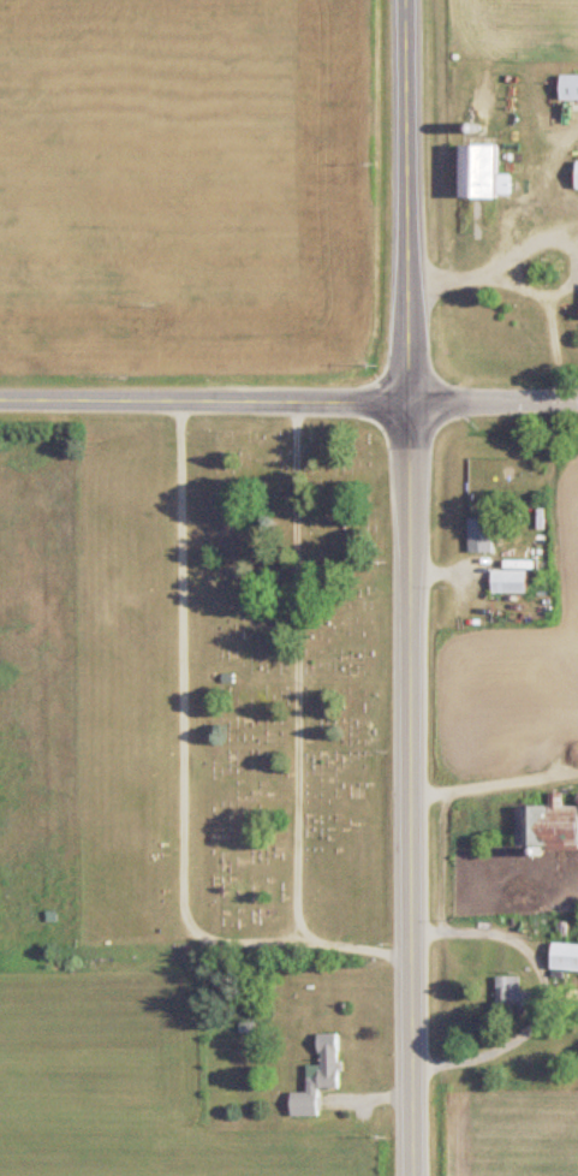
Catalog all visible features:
building: (570, 85)
building: (483, 168)
road: (547, 176)
road: (553, 233)
road: (475, 275)
road: (203, 400)
road: (493, 402)
building: (482, 534)
building: (510, 581)
road: (407, 588)
park: (230, 689)
road: (484, 785)
building: (550, 825)
building: (566, 956)
road: (548, 988)
building: (516, 993)
building: (321, 1076)

